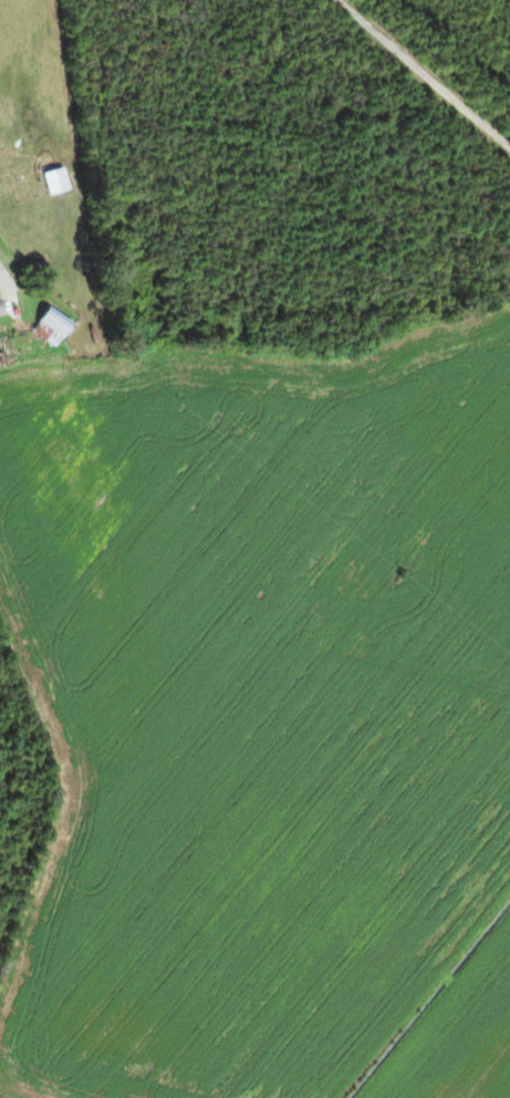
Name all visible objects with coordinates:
road: (424, 75)
building: (52, 325)

